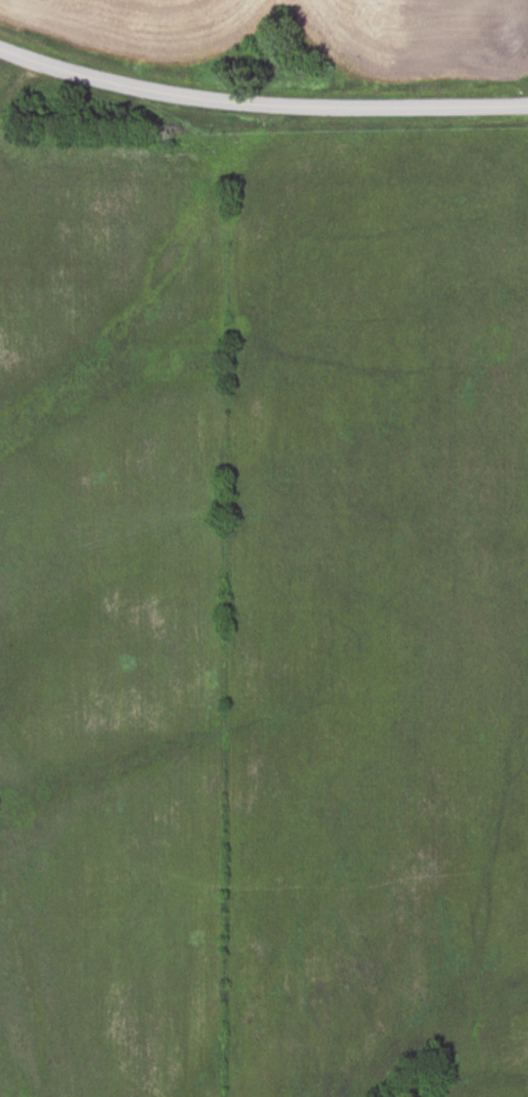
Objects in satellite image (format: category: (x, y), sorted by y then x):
road: (261, 98)

